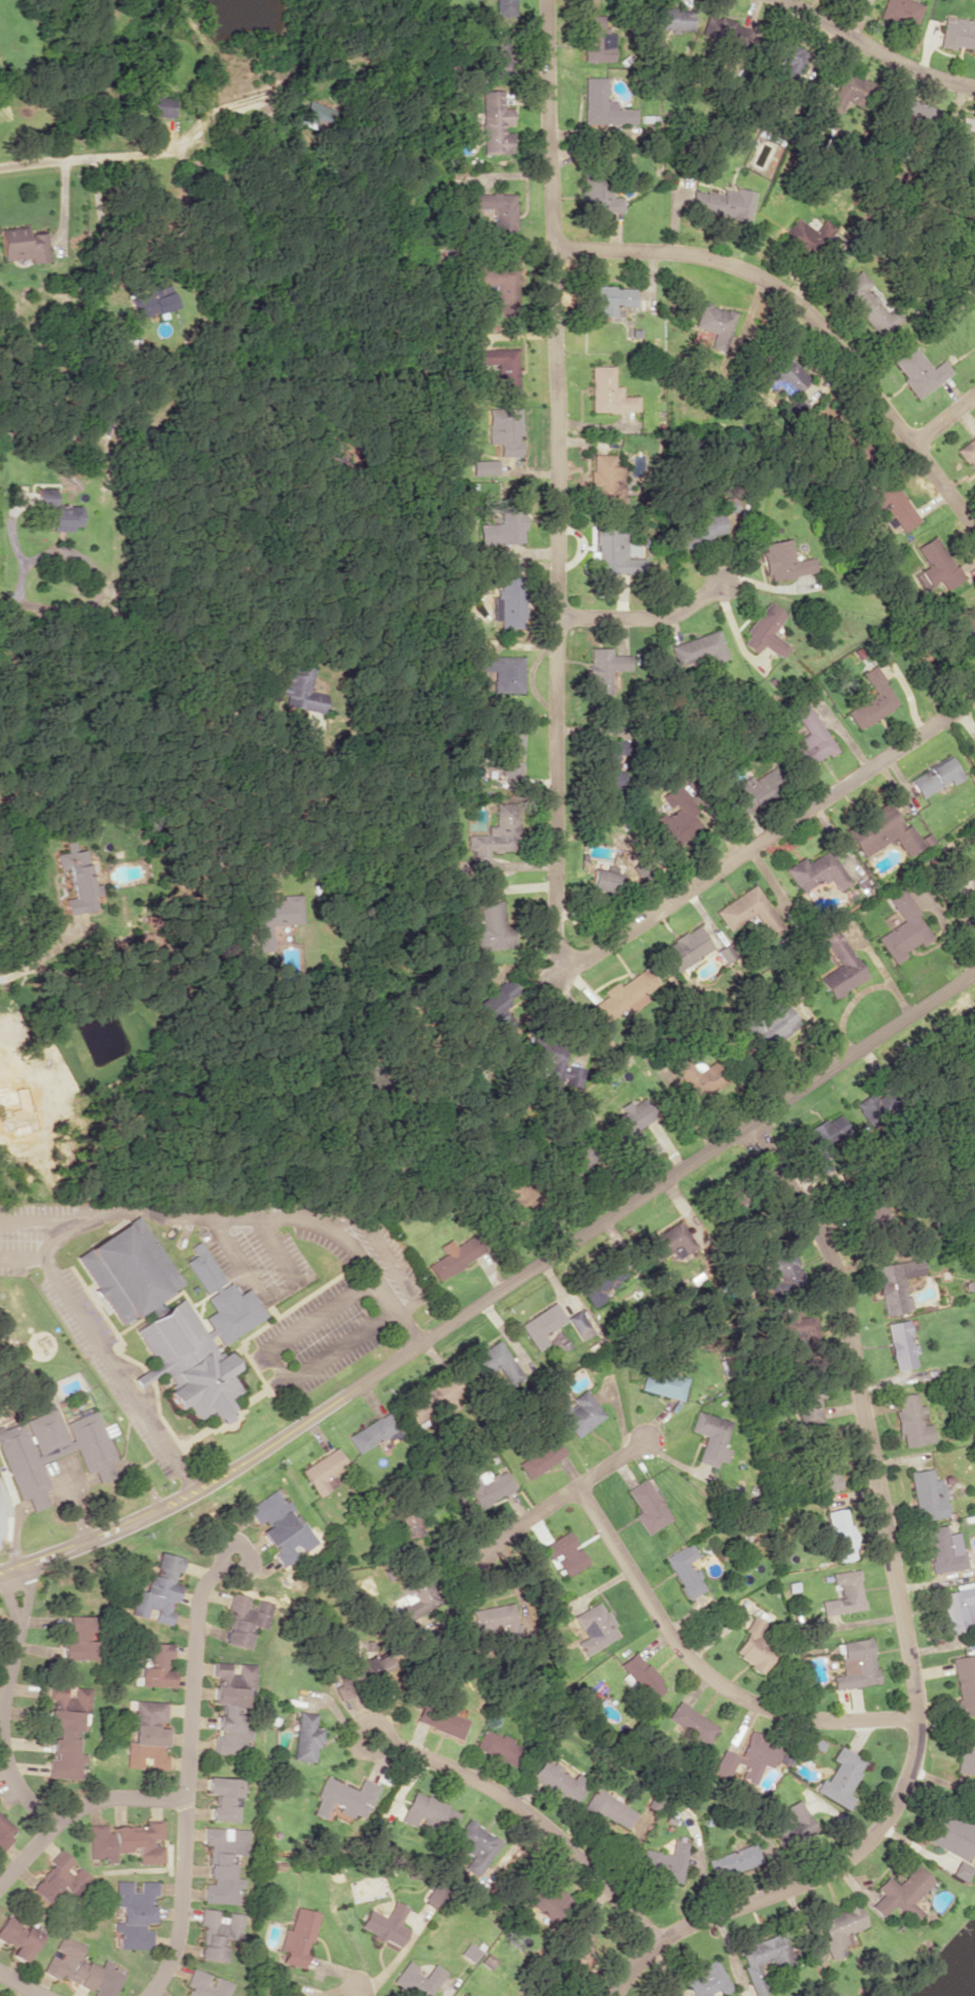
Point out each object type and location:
building: (503, 6)
building: (899, 12)
building: (664, 17)
building: (957, 33)
building: (595, 38)
road: (874, 50)
building: (498, 57)
building: (789, 68)
building: (846, 92)
building: (601, 104)
building: (161, 106)
building: (914, 111)
building: (315, 114)
building: (494, 123)
building: (967, 132)
road: (102, 156)
building: (600, 196)
building: (722, 202)
building: (496, 212)
building: (803, 237)
building: (23, 244)
building: (498, 285)
building: (608, 298)
building: (150, 299)
building: (868, 304)
road: (812, 315)
building: (712, 323)
building: (499, 367)
building: (919, 371)
building: (782, 374)
building: (607, 392)
road: (941, 416)
building: (503, 430)
building: (968, 453)
building: (484, 466)
building: (604, 480)
building: (891, 502)
building: (55, 512)
building: (503, 526)
building: (694, 527)
building: (614, 553)
building: (782, 560)
building: (935, 563)
building: (506, 602)
road: (640, 616)
building: (969, 628)
building: (764, 631)
building: (697, 648)
road: (14, 657)
building: (603, 668)
building: (502, 672)
building: (298, 689)
building: (871, 700)
road: (555, 724)
building: (809, 737)
building: (511, 750)
building: (608, 764)
building: (933, 776)
building: (754, 791)
building: (674, 817)
building: (882, 832)
building: (493, 836)
building: (817, 872)
building: (972, 877)
building: (601, 879)
building: (77, 881)
building: (746, 910)
building: (272, 916)
building: (491, 926)
building: (902, 927)
building: (684, 948)
building: (839, 964)
building: (467, 989)
building: (625, 994)
building: (491, 1006)
building: (772, 1024)
building: (560, 1070)
building: (698, 1076)
building: (868, 1106)
building: (628, 1121)
building: (825, 1131)
building: (669, 1242)
building: (454, 1255)
building: (784, 1268)
building: (126, 1269)
building: (601, 1282)
building: (895, 1284)
road: (502, 1300)
building: (578, 1324)
building: (799, 1329)
building: (198, 1341)
building: (900, 1344)
building: (495, 1361)
building: (662, 1383)
building: (429, 1400)
building: (809, 1403)
building: (579, 1413)
building: (910, 1420)
building: (371, 1432)
building: (710, 1437)
building: (54, 1454)
building: (541, 1458)
building: (826, 1470)
building: (322, 1471)
building: (488, 1487)
building: (926, 1494)
road: (558, 1498)
building: (647, 1506)
building: (408, 1522)
building: (279, 1526)
building: (839, 1533)
building: (943, 1549)
building: (565, 1553)
building: (684, 1570)
building: (157, 1590)
building: (844, 1593)
building: (957, 1608)
building: (243, 1619)
building: (496, 1619)
building: (595, 1627)
road: (904, 1627)
building: (78, 1638)
road: (12, 1642)
building: (755, 1645)
building: (855, 1663)
building: (154, 1665)
building: (369, 1666)
road: (705, 1669)
building: (641, 1676)
building: (964, 1682)
building: (232, 1706)
building: (439, 1720)
building: (692, 1722)
building: (66, 1731)
building: (146, 1735)
building: (305, 1737)
building: (498, 1747)
building: (966, 1750)
building: (746, 1758)
road: (184, 1775)
building: (840, 1777)
building: (557, 1781)
road: (15, 1785)
building: (222, 1798)
building: (343, 1798)
road: (77, 1807)
building: (607, 1808)
road: (528, 1816)
building: (792, 1823)
building: (5, 1832)
building: (949, 1834)
building: (126, 1841)
building: (732, 1860)
building: (222, 1863)
building: (664, 1863)
building: (959, 1870)
building: (59, 1877)
building: (899, 1893)
building: (433, 1896)
building: (551, 1904)
building: (133, 1913)
building: (384, 1924)
building: (837, 1928)
building: (216, 1932)
building: (297, 1937)
building: (19, 1938)
building: (468, 1952)
building: (763, 1958)
building: (81, 1968)
building: (417, 1979)
building: (705, 1980)
road: (22, 1982)
building: (204, 1984)
road: (360, 1990)

